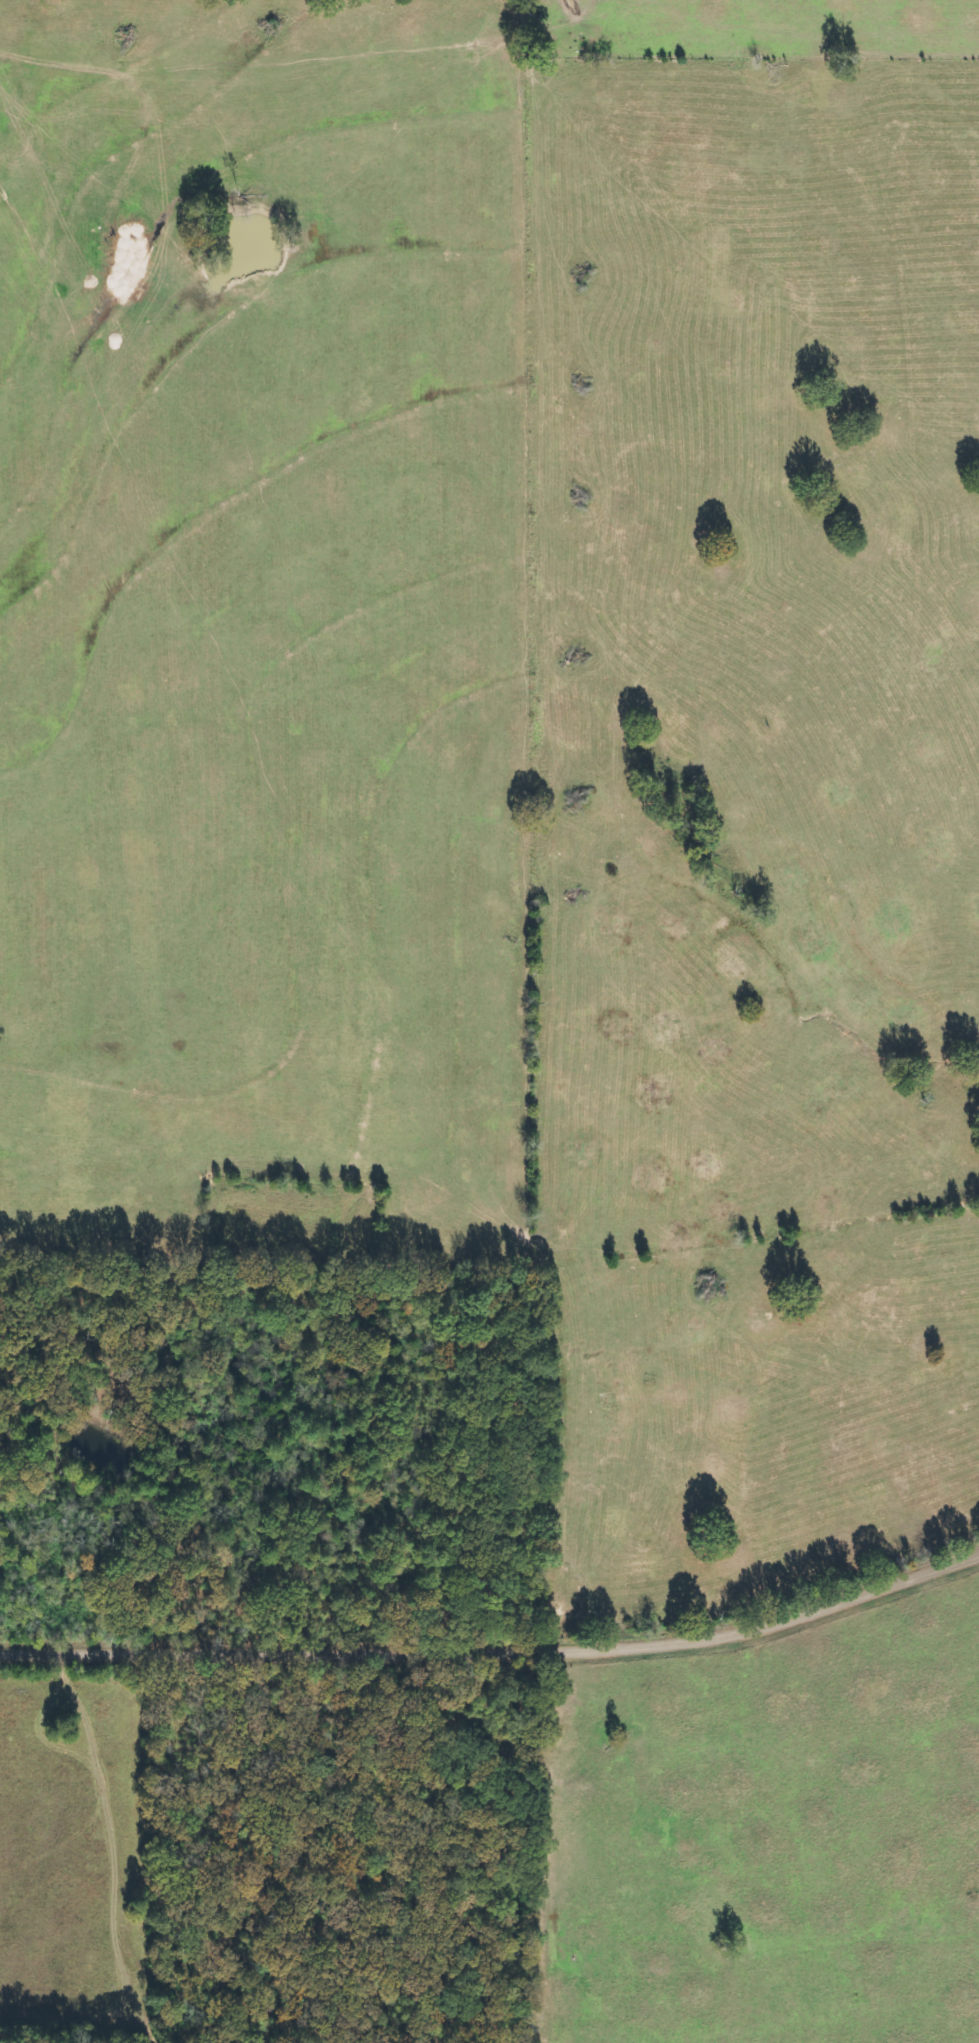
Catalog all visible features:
road: (496, 1654)

